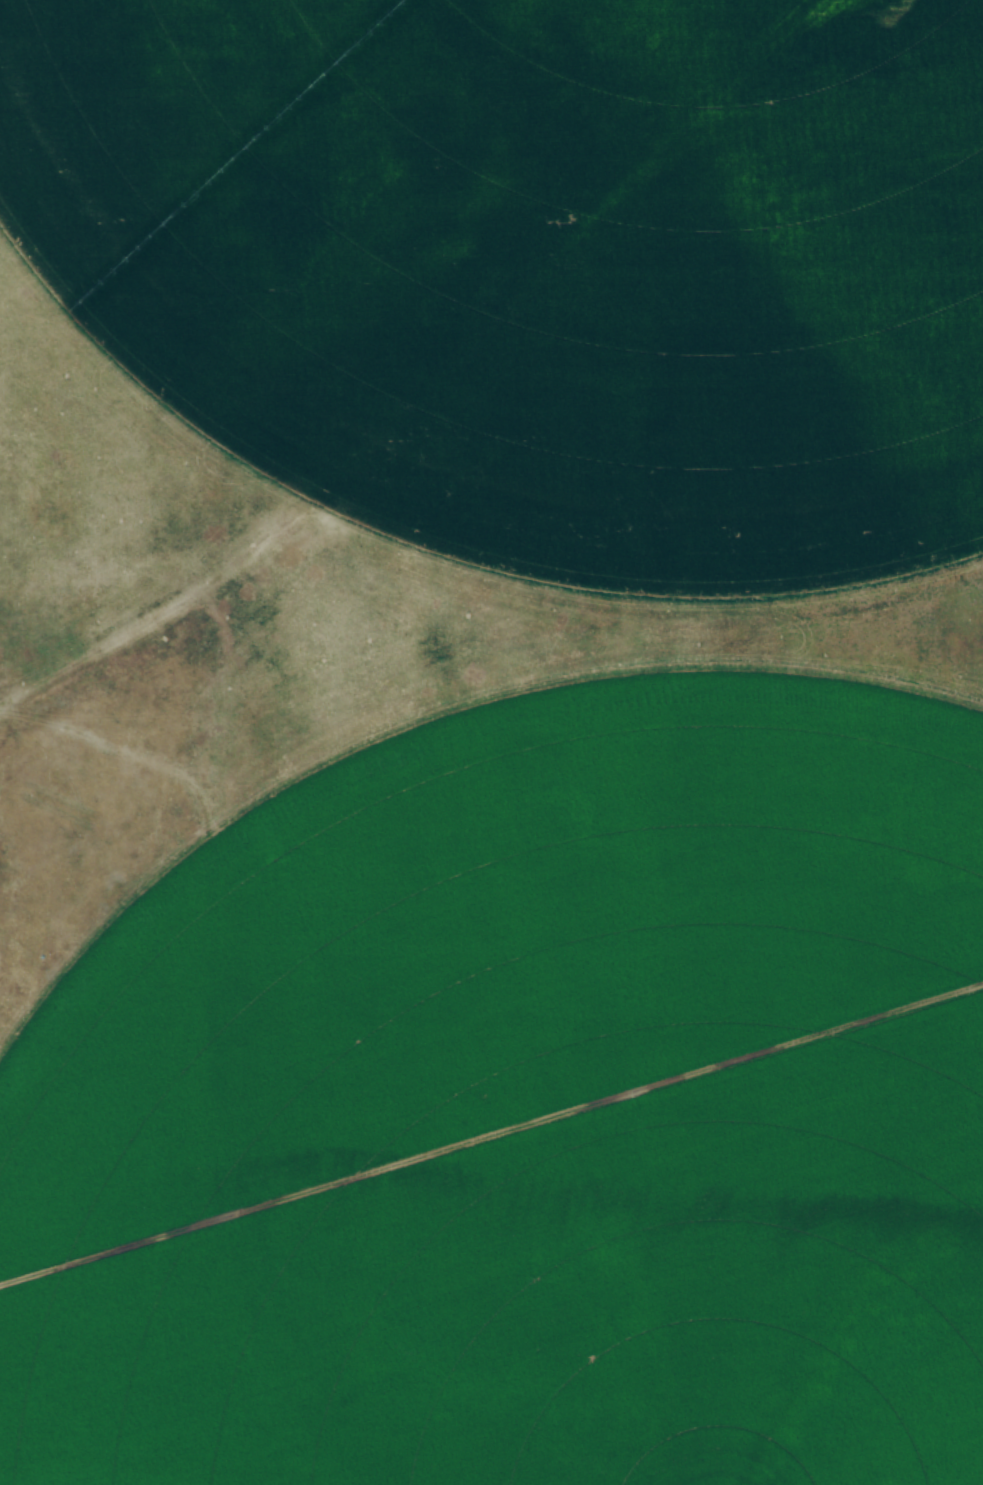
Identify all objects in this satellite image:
crop: (538, 258)
crop: (525, 1113)

